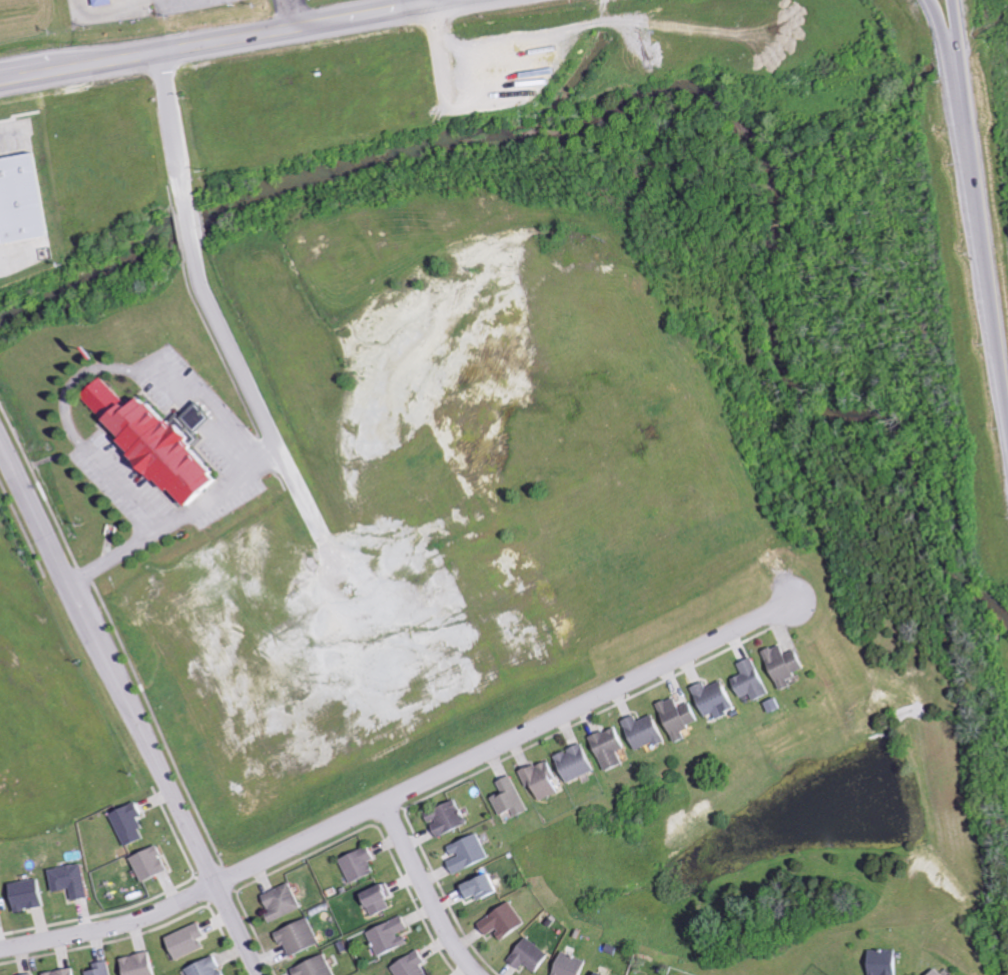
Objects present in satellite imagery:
building: (99, 2)
road: (426, 3)
road: (435, 3)
road: (461, 3)
road: (942, 41)
road: (956, 42)
road: (213, 44)
road: (171, 133)
road: (188, 226)
road: (981, 248)
road: (92, 372)
road: (250, 391)
building: (98, 396)
building: (154, 444)
road: (172, 519)
building: (779, 665)
building: (746, 681)
building: (710, 699)
road: (128, 712)
building: (673, 718)
building: (638, 732)
building: (604, 747)
building: (570, 763)
building: (537, 780)
road: (403, 792)
building: (504, 797)
building: (441, 818)
building: (123, 823)
building: (462, 853)
building: (143, 864)
building: (353, 865)
building: (65, 881)
building: (472, 887)
road: (423, 892)
building: (24, 895)
building: (372, 898)
building: (276, 903)
building: (498, 922)
building: (384, 935)
building: (292, 937)
building: (181, 941)
building: (524, 955)
building: (879, 962)
building: (134, 964)
building: (406, 965)
building: (567, 965)
building: (200, 967)
building: (310, 967)
building: (95, 969)
building: (58, 972)
building: (932, 972)
building: (29, 974)
building: (594, 974)

